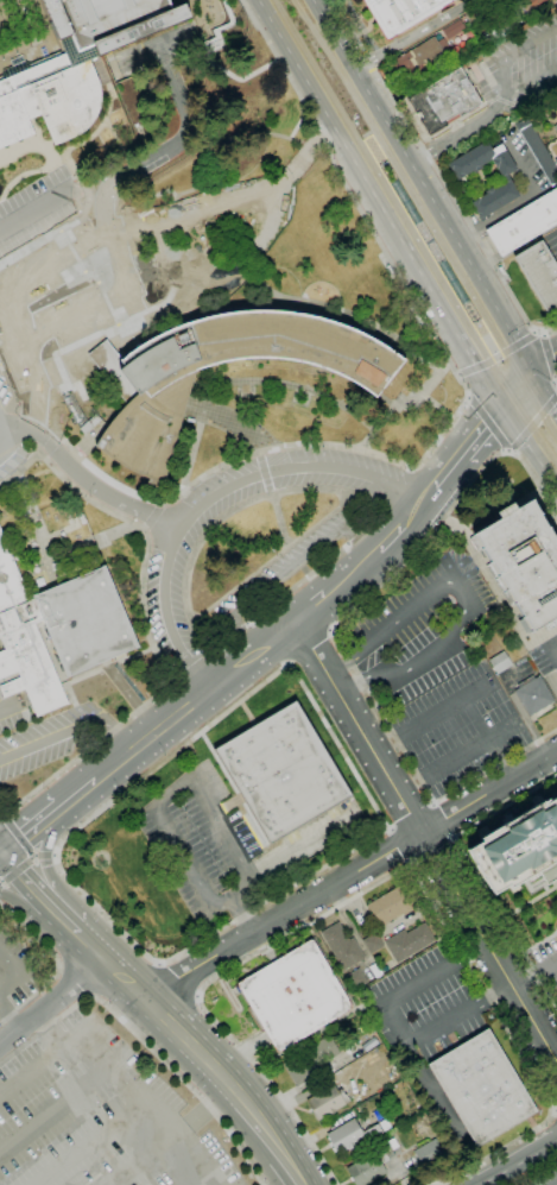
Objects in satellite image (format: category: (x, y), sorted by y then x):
road: (318, 2)
building: (534, 2)
building: (400, 13)
building: (504, 29)
road: (412, 34)
flagpole: (30, 45)
flagpole: (15, 51)
flagpole: (0, 57)
building: (423, 57)
road: (506, 59)
building: (75, 64)
road: (532, 86)
building: (444, 100)
road: (473, 121)
building: (556, 124)
building: (556, 127)
railway: (372, 134)
building: (537, 150)
road: (423, 151)
road: (352, 157)
building: (555, 162)
road: (438, 176)
building: (458, 177)
railway: (410, 190)
railway: (393, 198)
road: (513, 203)
road: (436, 206)
parking lot: (36, 208)
road: (34, 210)
building: (525, 223)
road: (68, 226)
road: (106, 226)
road: (376, 234)
road: (53, 265)
building: (539, 273)
building: (74, 296)
road: (454, 329)
road: (538, 332)
road: (543, 333)
road: (489, 345)
road: (498, 355)
road: (547, 355)
road: (29, 361)
road: (458, 373)
traffic signals: (534, 373)
road: (481, 374)
road: (528, 378)
road: (555, 379)
road: (555, 384)
road: (8, 386)
road: (468, 396)
building: (158, 399)
traffic signals: (502, 406)
railway: (540, 409)
road: (487, 421)
road: (534, 422)
railway: (533, 429)
road: (482, 430)
road: (2, 435)
parking lot: (11, 439)
road: (2, 443)
road: (528, 447)
road: (258, 449)
road: (506, 449)
road: (512, 450)
road: (228, 458)
road: (414, 468)
road: (265, 471)
road: (450, 472)
road: (86, 480)
road: (399, 490)
road: (214, 496)
road: (431, 496)
road: (159, 500)
road: (229, 511)
road: (153, 515)
road: (376, 516)
road: (279, 518)
road: (137, 523)
road: (145, 528)
road: (404, 529)
road: (359, 532)
road: (273, 557)
building: (524, 560)
road: (279, 573)
road: (354, 574)
road: (291, 587)
road: (462, 590)
road: (311, 610)
building: (57, 630)
road: (333, 632)
road: (224, 639)
road: (552, 645)
road: (312, 650)
road: (210, 653)
parking lot: (432, 661)
building: (499, 663)
road: (342, 666)
road: (190, 668)
road: (365, 681)
building: (534, 695)
road: (195, 701)
road: (444, 708)
road: (386, 744)
road: (88, 749)
road: (471, 750)
building: (283, 771)
road: (410, 784)
road: (78, 795)
road: (409, 813)
road: (447, 818)
road: (32, 832)
road: (15, 834)
road: (426, 843)
road: (399, 846)
road: (43, 850)
road: (1, 851)
road: (432, 851)
building: (520, 851)
road: (1, 853)
traffic signals: (2, 853)
road: (42, 855)
road: (53, 855)
road: (17, 869)
road: (474, 871)
road: (23, 872)
road: (352, 875)
road: (380, 878)
road: (255, 882)
road: (21, 894)
building: (391, 906)
road: (61, 910)
road: (242, 914)
road: (81, 932)
building: (409, 941)
building: (373, 943)
building: (342, 946)
road: (470, 952)
road: (106, 957)
road: (165, 960)
road: (57, 964)
road: (164, 964)
road: (58, 970)
road: (533, 970)
road: (17, 972)
road: (179, 979)
building: (355, 979)
road: (72, 983)
road: (495, 994)
building: (295, 995)
road: (86, 996)
road: (197, 997)
road: (53, 1001)
road: (398, 1023)
building: (362, 1025)
road: (182, 1030)
road: (145, 1041)
building: (310, 1060)
road: (39, 1064)
building: (482, 1088)
parking lot: (86, 1095)
building: (327, 1102)
road: (143, 1105)
road: (556, 1109)
road: (55, 1110)
road: (552, 1110)
road: (202, 1112)
road: (262, 1118)
building: (350, 1135)
road: (91, 1146)
building: (429, 1152)
road: (512, 1160)
road: (138, 1162)
building: (372, 1164)
road: (296, 1170)

